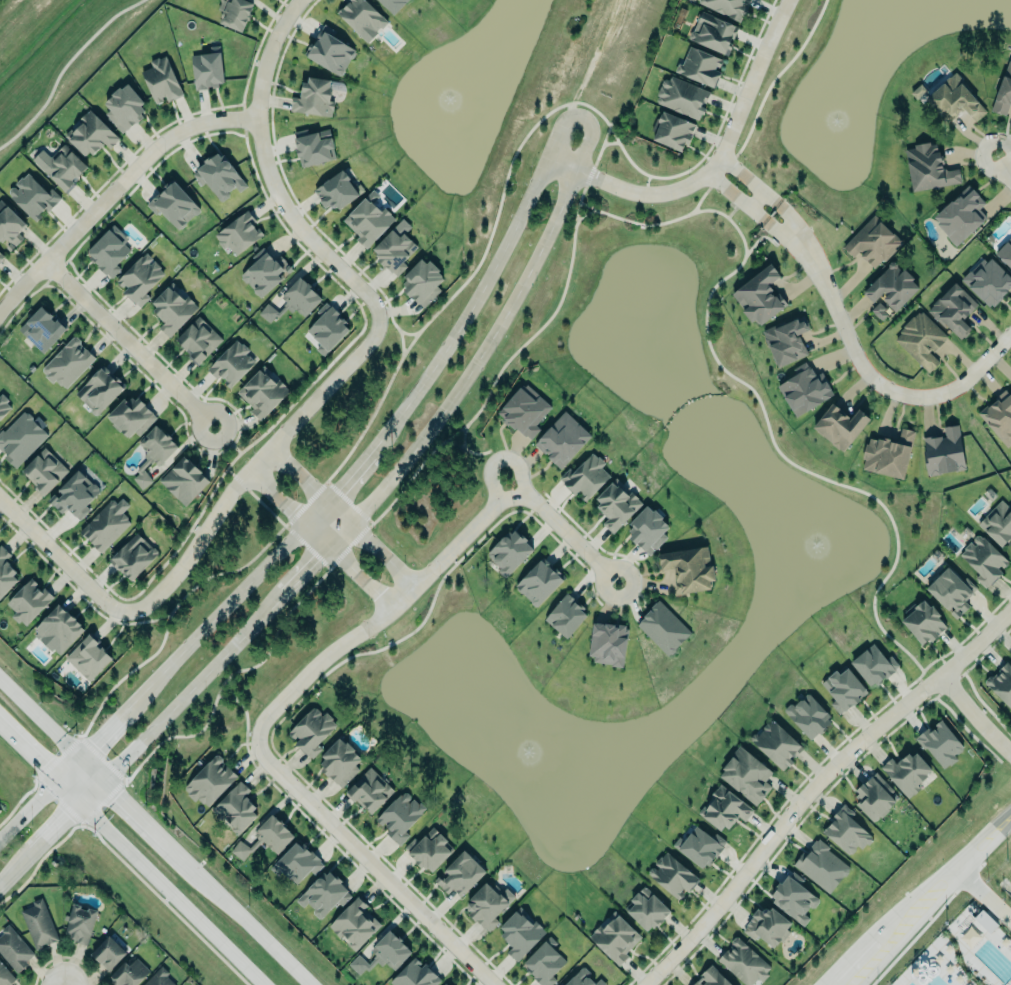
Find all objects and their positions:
building: (393, 4)
building: (727, 7)
building: (234, 13)
building: (362, 18)
building: (714, 32)
building: (330, 51)
building: (701, 66)
building: (207, 70)
building: (162, 79)
building: (917, 91)
building: (1002, 91)
building: (314, 97)
building: (682, 97)
building: (957, 98)
building: (125, 107)
road: (584, 115)
building: (674, 131)
building: (91, 135)
building: (315, 147)
road: (713, 163)
building: (62, 167)
road: (735, 168)
building: (928, 168)
road: (1004, 170)
road: (269, 172)
building: (220, 175)
road: (723, 184)
road: (112, 190)
building: (336, 191)
building: (32, 196)
road: (777, 201)
building: (175, 205)
building: (961, 216)
road: (764, 217)
building: (368, 220)
building: (10, 225)
building: (240, 234)
building: (873, 241)
building: (394, 250)
building: (109, 251)
building: (1004, 252)
building: (1, 256)
building: (266, 273)
building: (140, 279)
building: (988, 281)
building: (422, 282)
building: (891, 290)
building: (761, 296)
building: (294, 300)
road: (468, 309)
building: (954, 309)
building: (172, 310)
building: (41, 329)
building: (326, 330)
building: (199, 339)
building: (781, 339)
building: (921, 340)
road: (128, 343)
road: (481, 356)
building: (69, 363)
building: (231, 364)
road: (872, 378)
building: (1010, 384)
building: (100, 389)
building: (263, 392)
building: (4, 405)
building: (524, 408)
building: (999, 414)
building: (132, 417)
building: (840, 426)
building: (22, 437)
building: (562, 440)
road: (233, 446)
building: (154, 452)
building: (944, 452)
building: (888, 455)
road: (249, 468)
building: (46, 470)
road: (497, 477)
road: (518, 477)
building: (586, 477)
building: (183, 480)
road: (337, 488)
building: (74, 496)
building: (617, 505)
road: (342, 512)
building: (107, 523)
building: (998, 523)
building: (647, 530)
road: (564, 532)
road: (319, 536)
building: (510, 551)
building: (133, 557)
road: (318, 559)
building: (982, 559)
road: (59, 564)
building: (689, 568)
building: (6, 573)
building: (539, 582)
building: (952, 591)
building: (29, 601)
road: (222, 608)
road: (379, 613)
building: (566, 616)
building: (924, 622)
building: (663, 628)
building: (60, 629)
building: (609, 643)
building: (89, 656)
building: (872, 665)
building: (1002, 683)
building: (838, 689)
road: (193, 690)
building: (808, 716)
road: (974, 716)
road: (40, 717)
road: (109, 726)
building: (311, 731)
traffic signals: (94, 744)
building: (776, 744)
building: (941, 745)
building: (339, 762)
traffic signals: (40, 764)
road: (41, 765)
road: (68, 770)
building: (907, 773)
building: (746, 775)
building: (210, 782)
road: (818, 784)
building: (369, 790)
traffic signals: (115, 796)
building: (876, 797)
building: (236, 806)
road: (28, 809)
building: (724, 809)
road: (130, 810)
building: (401, 816)
traffic signals: (70, 819)
road: (64, 824)
building: (846, 831)
building: (265, 838)
building: (699, 847)
building: (431, 852)
road: (367, 861)
building: (297, 862)
building: (821, 866)
building: (460, 874)
building: (675, 874)
road: (12, 876)
building: (325, 894)
road: (985, 894)
building: (794, 895)
road: (171, 896)
road: (928, 901)
building: (489, 904)
building: (648, 909)
building: (986, 920)
building: (80, 923)
road: (245, 923)
building: (356, 923)
building: (39, 924)
building: (769, 926)
building: (520, 933)
building: (615, 938)
building: (15, 949)
building: (108, 953)
building: (383, 954)
building: (545, 962)
building: (743, 963)
building: (130, 973)
building: (415, 975)
building: (5, 976)
building: (713, 977)
road: (59, 978)
road: (73, 978)
building: (160, 978)
building: (583, 979)
building: (446, 984)

